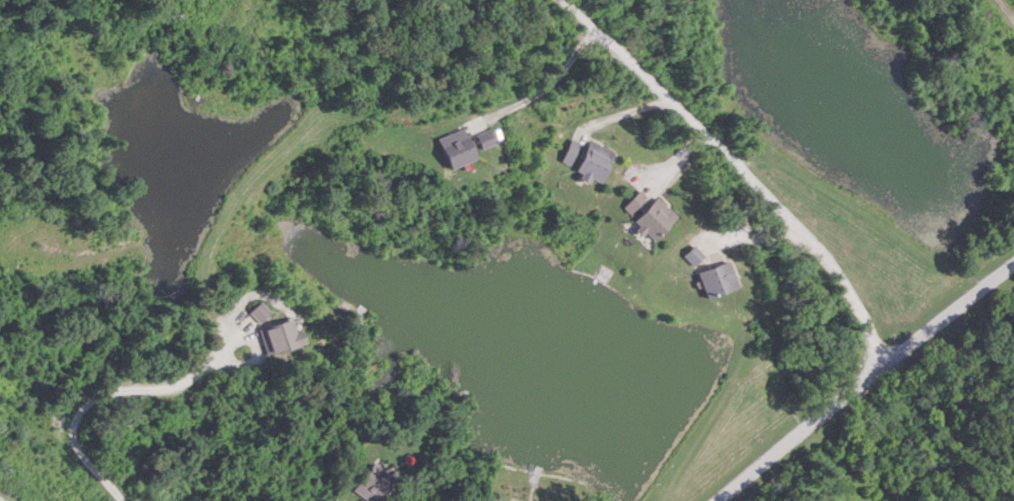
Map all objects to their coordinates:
building: (248, 21)
road: (552, 82)
building: (455, 149)
building: (586, 160)
road: (733, 169)
building: (649, 215)
building: (692, 256)
building: (716, 279)
building: (258, 312)
building: (279, 335)
road: (863, 378)
road: (101, 393)
building: (371, 483)

